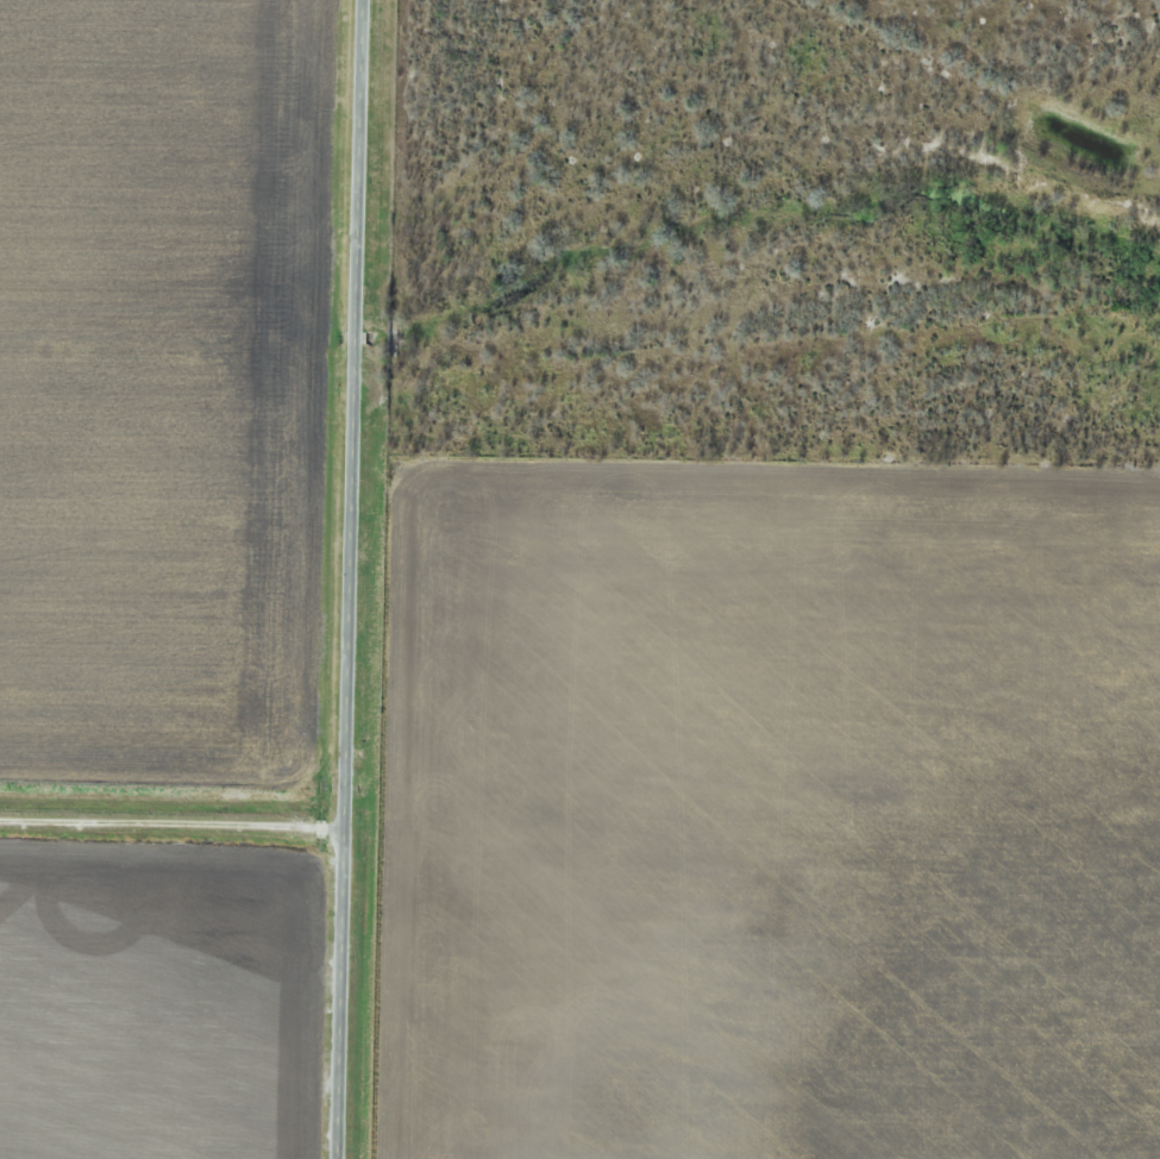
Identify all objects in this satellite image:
road: (352, 579)
road: (173, 829)

